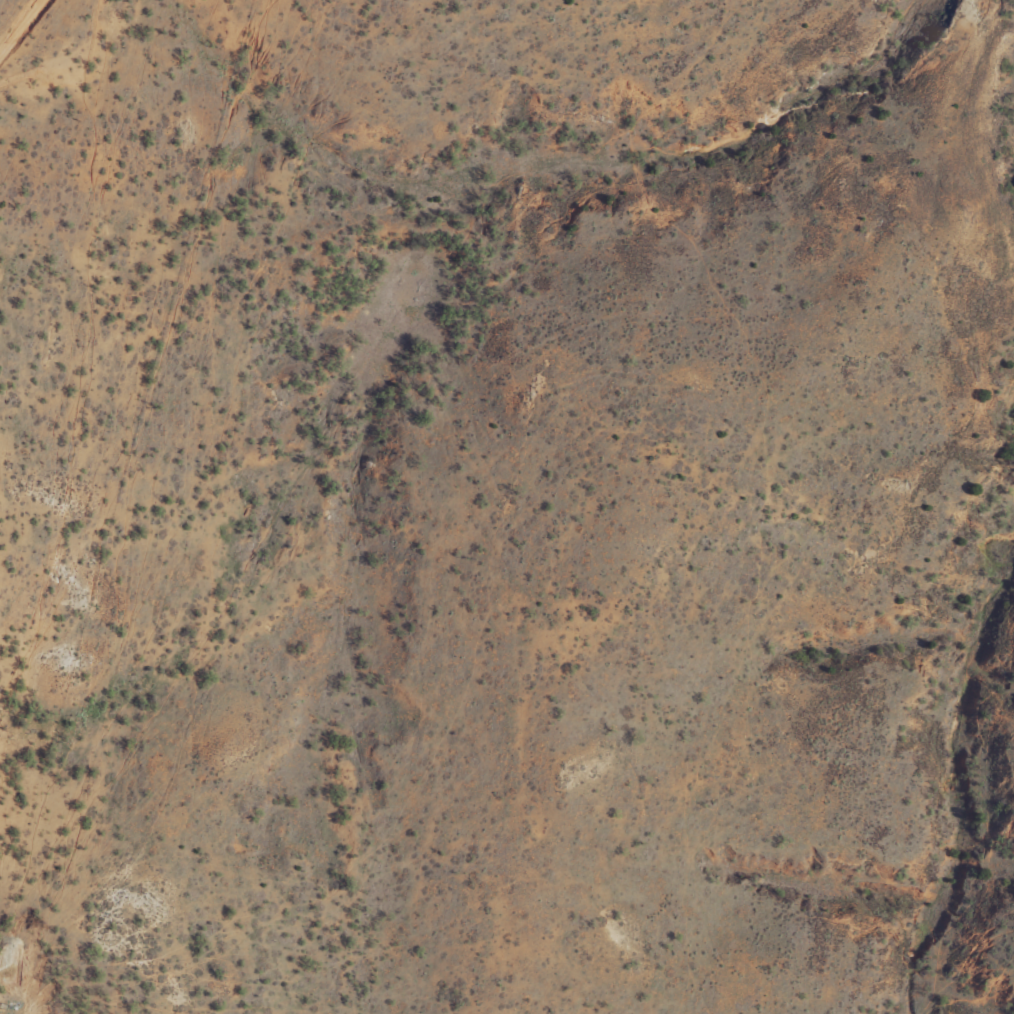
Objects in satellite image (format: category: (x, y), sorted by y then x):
road: (14, 21)

